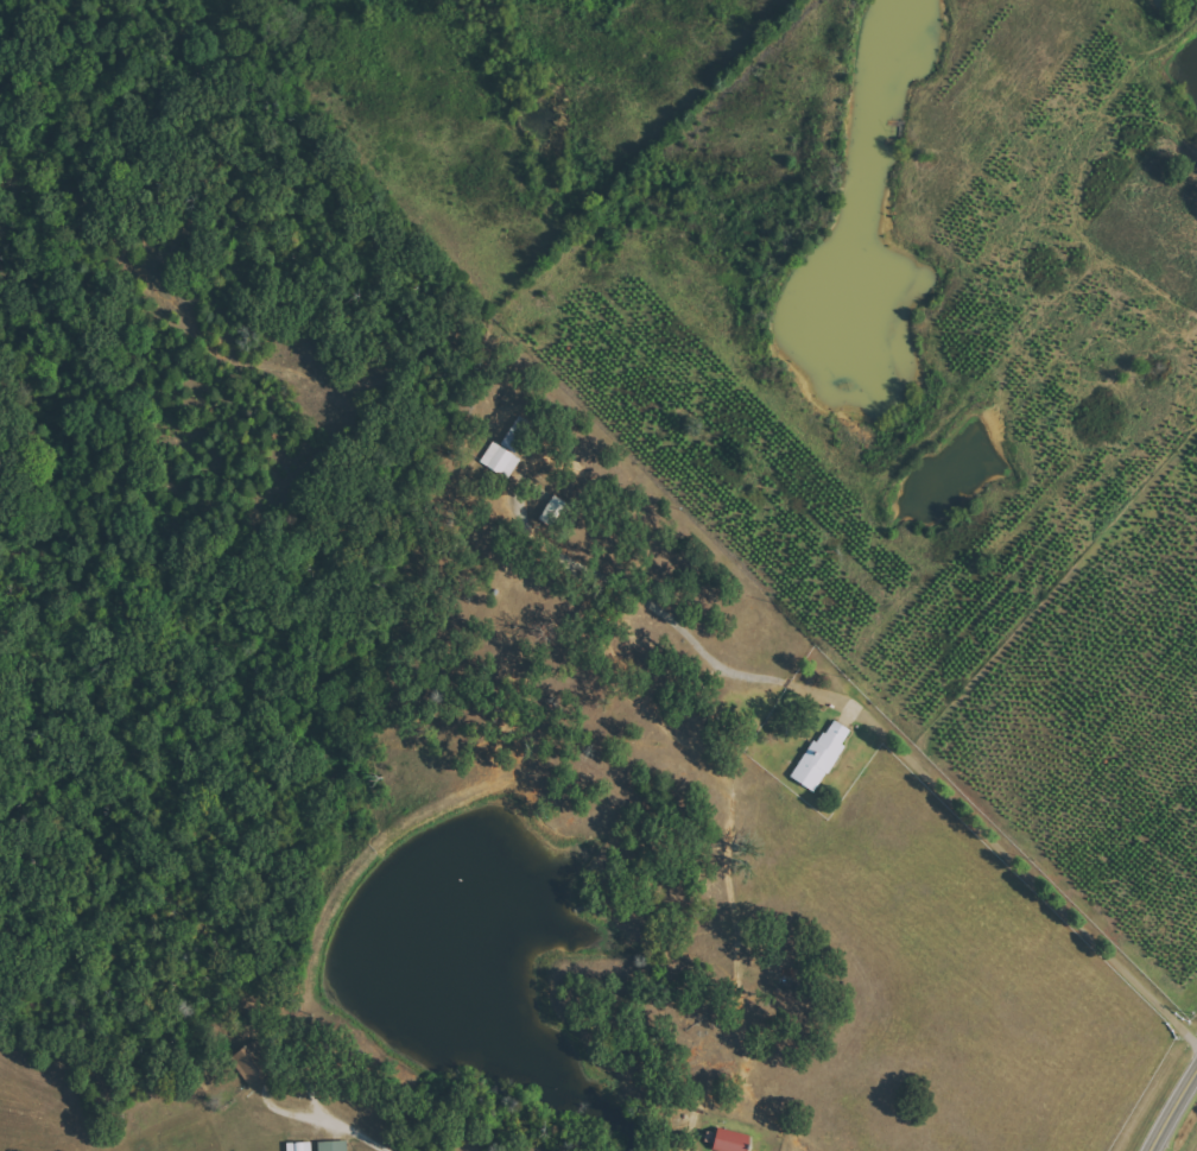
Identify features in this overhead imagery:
building: (507, 449)
building: (823, 755)
road: (1028, 875)
building: (251, 1063)
road: (1176, 1109)
road: (342, 1119)
building: (729, 1141)
building: (299, 1146)
building: (332, 1146)

